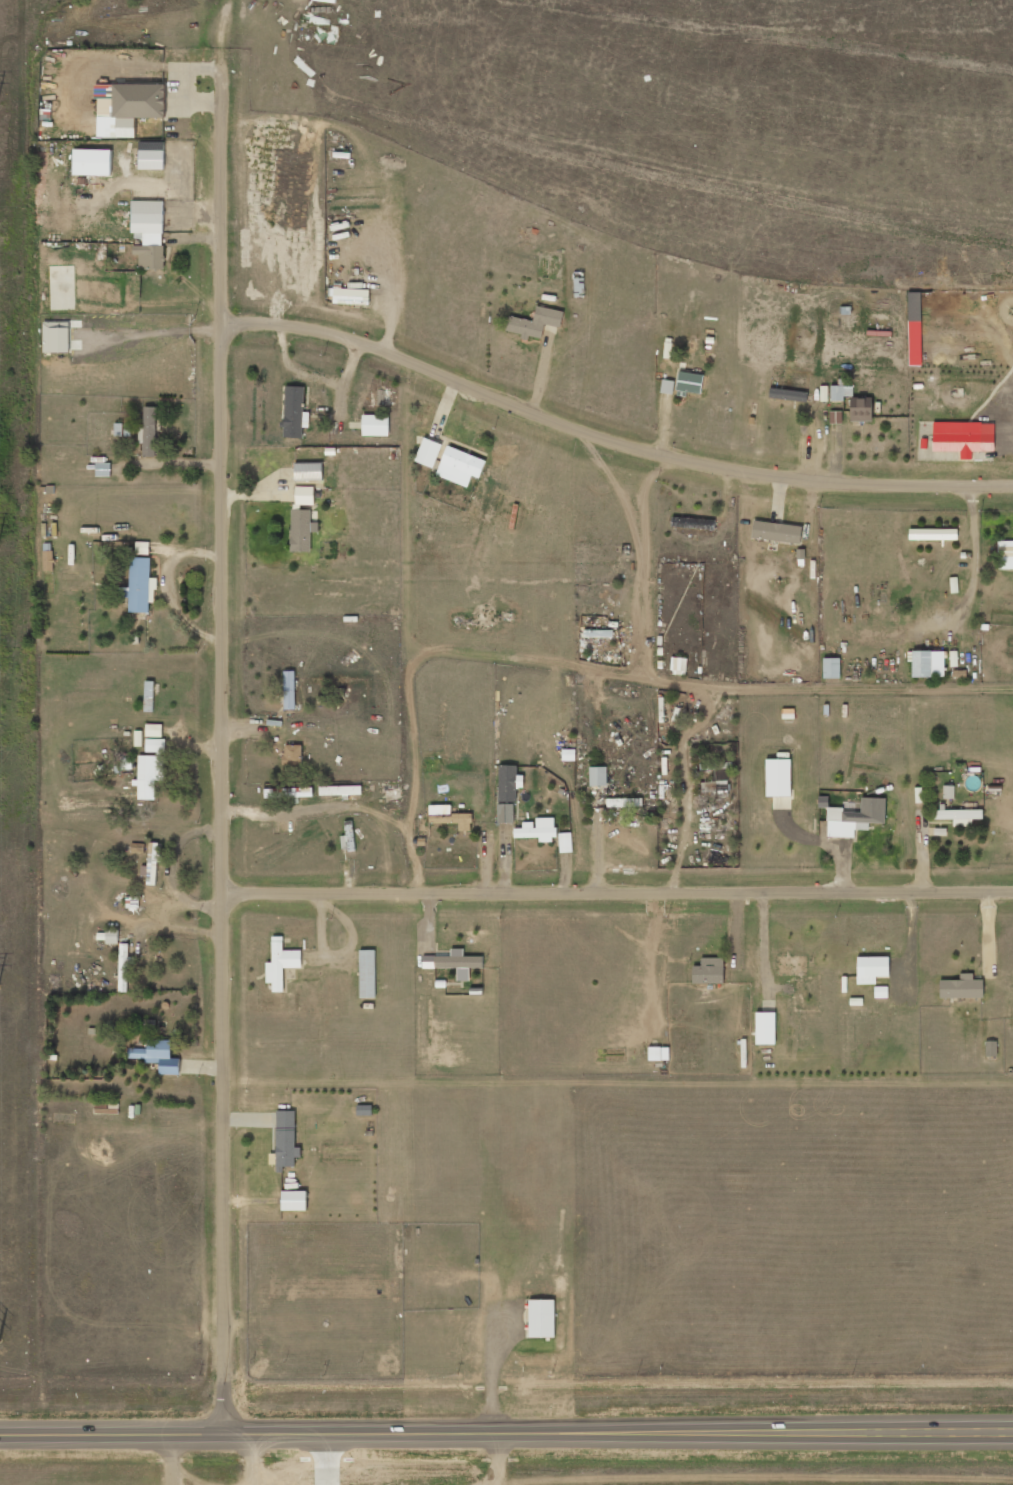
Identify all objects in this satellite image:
building: (132, 101)
building: (151, 156)
building: (92, 162)
building: (149, 233)
building: (914, 307)
building: (535, 323)
building: (58, 339)
building: (688, 384)
building: (667, 387)
building: (840, 393)
building: (794, 396)
building: (861, 409)
building: (295, 413)
building: (835, 418)
building: (375, 426)
building: (149, 432)
road: (609, 436)
building: (957, 438)
building: (428, 453)
building: (460, 467)
building: (103, 470)
building: (308, 472)
building: (304, 496)
building: (301, 530)
building: (776, 532)
building: (933, 534)
building: (48, 562)
building: (141, 585)
building: (592, 634)
building: (928, 664)
building: (678, 666)
building: (831, 668)
building: (289, 690)
road: (224, 739)
building: (568, 749)
building: (292, 755)
building: (127, 767)
building: (717, 772)
building: (149, 776)
building: (597, 777)
building: (778, 778)
building: (509, 784)
building: (340, 791)
building: (948, 792)
building: (303, 793)
building: (624, 803)
building: (505, 814)
building: (958, 816)
building: (449, 817)
building: (855, 818)
building: (538, 830)
building: (565, 843)
building: (137, 848)
building: (153, 863)
road: (618, 890)
building: (112, 937)
building: (454, 963)
building: (281, 964)
building: (791, 967)
building: (871, 969)
building: (709, 971)
building: (367, 974)
power tower: (0, 987)
building: (962, 988)
building: (787, 989)
building: (765, 1028)
building: (991, 1049)
building: (658, 1054)
building: (158, 1056)
building: (285, 1140)
building: (294, 1201)
building: (541, 1318)
road: (506, 1434)

